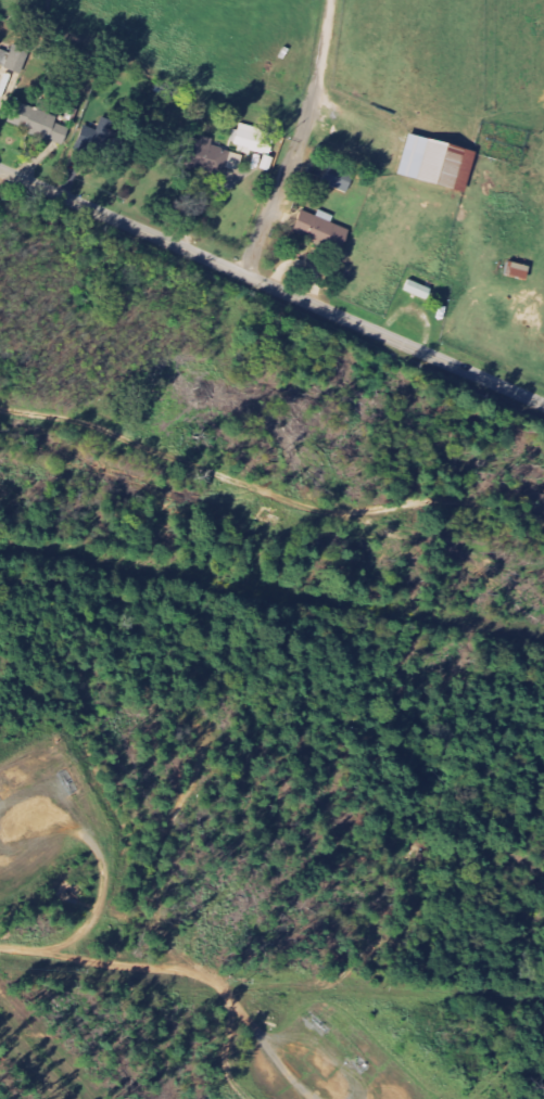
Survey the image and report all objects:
building: (14, 60)
building: (40, 124)
road: (298, 140)
building: (255, 141)
building: (210, 155)
building: (439, 164)
building: (339, 179)
building: (321, 230)
building: (518, 271)
road: (273, 285)
road: (267, 496)
road: (50, 791)
road: (92, 838)
road: (43, 841)
road: (97, 905)
road: (349, 966)
road: (149, 968)
road: (291, 1036)
road: (224, 1057)

